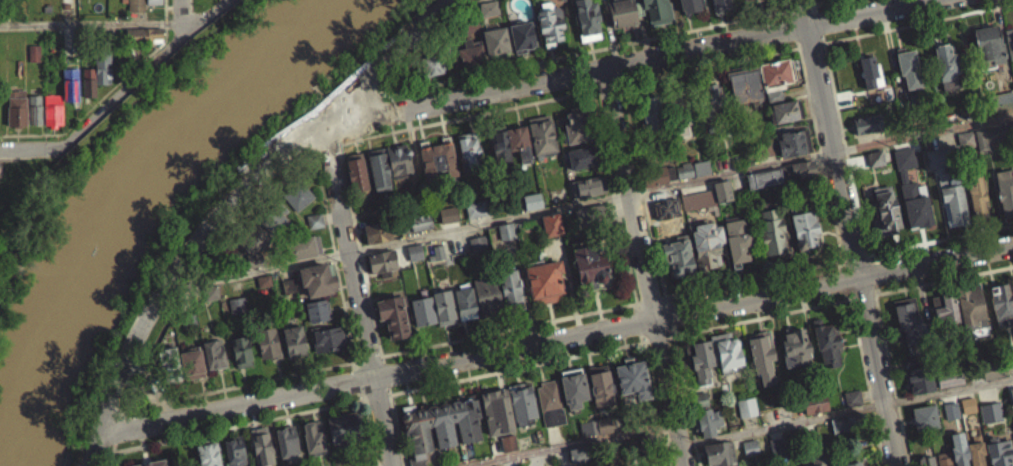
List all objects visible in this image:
building: (515, 0)
building: (154, 1)
road: (818, 2)
building: (723, 3)
building: (751, 3)
building: (692, 4)
building: (137, 5)
building: (490, 6)
road: (799, 6)
road: (815, 6)
road: (784, 7)
road: (187, 10)
building: (660, 10)
building: (623, 12)
road: (438, 13)
road: (180, 15)
road: (205, 15)
building: (487, 16)
building: (589, 18)
building: (552, 20)
road: (819, 22)
road: (916, 22)
road: (90, 23)
building: (468, 24)
road: (791, 27)
building: (148, 33)
building: (523, 33)
road: (823, 37)
building: (497, 38)
building: (1009, 41)
building: (142, 42)
road: (811, 43)
building: (989, 43)
road: (585, 50)
building: (470, 51)
building: (32, 60)
road: (626, 61)
road: (410, 63)
building: (431, 63)
building: (104, 64)
building: (947, 65)
building: (909, 68)
building: (869, 70)
building: (429, 73)
building: (776, 73)
building: (89, 80)
building: (70, 82)
building: (744, 84)
road: (123, 90)
road: (105, 93)
building: (774, 95)
road: (809, 96)
building: (1002, 100)
building: (712, 102)
building: (35, 107)
building: (53, 108)
building: (785, 110)
building: (653, 112)
building: (678, 113)
building: (15, 115)
building: (868, 122)
building: (580, 123)
building: (866, 131)
building: (544, 132)
road: (370, 135)
building: (990, 135)
building: (521, 139)
building: (791, 139)
building: (966, 139)
building: (502, 145)
building: (765, 146)
building: (983, 146)
building: (470, 147)
building: (965, 147)
road: (30, 148)
road: (846, 148)
building: (584, 154)
building: (941, 156)
building: (876, 157)
building: (400, 158)
building: (439, 158)
building: (580, 165)
building: (933, 165)
building: (700, 166)
building: (875, 166)
building: (380, 167)
building: (803, 168)
building: (903, 169)
building: (786, 171)
building: (358, 172)
building: (649, 174)
building: (764, 177)
building: (674, 179)
building: (589, 184)
building: (722, 190)
road: (644, 191)
building: (1005, 191)
building: (977, 193)
building: (300, 194)
building: (587, 194)
building: (953, 197)
building: (720, 198)
building: (534, 199)
road: (617, 199)
building: (699, 199)
river: (111, 200)
road: (590, 201)
building: (510, 202)
road: (831, 206)
building: (478, 207)
building: (696, 207)
building: (531, 208)
building: (887, 208)
park: (27, 212)
building: (449, 213)
building: (914, 213)
building: (591, 215)
building: (277, 216)
building: (475, 216)
building: (316, 218)
building: (418, 221)
building: (447, 222)
building: (552, 222)
building: (802, 222)
building: (313, 228)
building: (507, 229)
building: (379, 230)
building: (772, 230)
building: (550, 232)
road: (849, 232)
building: (255, 236)
building: (375, 239)
building: (505, 239)
road: (358, 240)
building: (738, 240)
building: (479, 242)
road: (938, 243)
building: (304, 245)
building: (707, 245)
building: (279, 247)
building: (416, 250)
building: (440, 250)
building: (477, 251)
building: (678, 256)
road: (855, 256)
road: (334, 258)
building: (255, 259)
building: (413, 259)
building: (383, 260)
building: (437, 260)
road: (645, 266)
building: (588, 268)
building: (319, 276)
road: (754, 277)
building: (546, 279)
road: (942, 279)
building: (264, 280)
building: (511, 283)
building: (289, 284)
building: (262, 290)
building: (211, 291)
road: (356, 292)
building: (287, 293)
building: (489, 293)
road: (862, 295)
road: (650, 299)
building: (209, 300)
building: (466, 301)
building: (1002, 303)
building: (238, 304)
building: (971, 304)
building: (444, 306)
building: (945, 307)
building: (319, 308)
building: (423, 309)
building: (236, 312)
building: (393, 314)
road: (670, 314)
building: (188, 316)
road: (760, 316)
building: (316, 318)
building: (909, 319)
road: (640, 322)
road: (509, 328)
road: (134, 335)
building: (329, 337)
road: (659, 338)
building: (295, 340)
road: (556, 340)
building: (269, 341)
building: (827, 342)
building: (795, 346)
building: (242, 349)
building: (728, 352)
building: (215, 353)
building: (762, 354)
road: (369, 356)
building: (701, 361)
building: (171, 362)
building: (193, 362)
road: (518, 367)
building: (992, 369)
building: (918, 372)
road: (385, 373)
building: (634, 375)
building: (990, 377)
road: (360, 378)
building: (950, 378)
road: (892, 379)
road: (867, 382)
road: (243, 383)
road: (150, 385)
building: (602, 385)
building: (575, 387)
building: (948, 387)
road: (377, 396)
building: (853, 396)
road: (686, 398)
building: (700, 398)
road: (658, 399)
building: (551, 402)
building: (814, 402)
building: (523, 403)
building: (1010, 403)
building: (850, 405)
building: (747, 406)
road: (846, 410)
building: (991, 410)
building: (498, 411)
building: (813, 411)
building: (966, 412)
building: (745, 414)
building: (926, 416)
building: (989, 419)
building: (708, 420)
building: (848, 421)
building: (605, 423)
road: (241, 424)
road: (396, 425)
building: (588, 425)
building: (347, 426)
building: (442, 426)
road: (371, 428)
building: (603, 432)
building: (844, 432)
building: (314, 437)
building: (288, 440)
building: (262, 441)
building: (509, 441)
road: (566, 444)
building: (751, 446)
building: (236, 450)
building: (506, 450)
building: (976, 450)
building: (999, 451)
building: (210, 452)
building: (579, 452)
building: (719, 452)
building: (749, 454)
building: (960, 455)
building: (944, 459)
building: (576, 460)
building: (815, 460)
building: (925, 460)
building: (152, 462)
building: (852, 462)
building: (953, 465)

